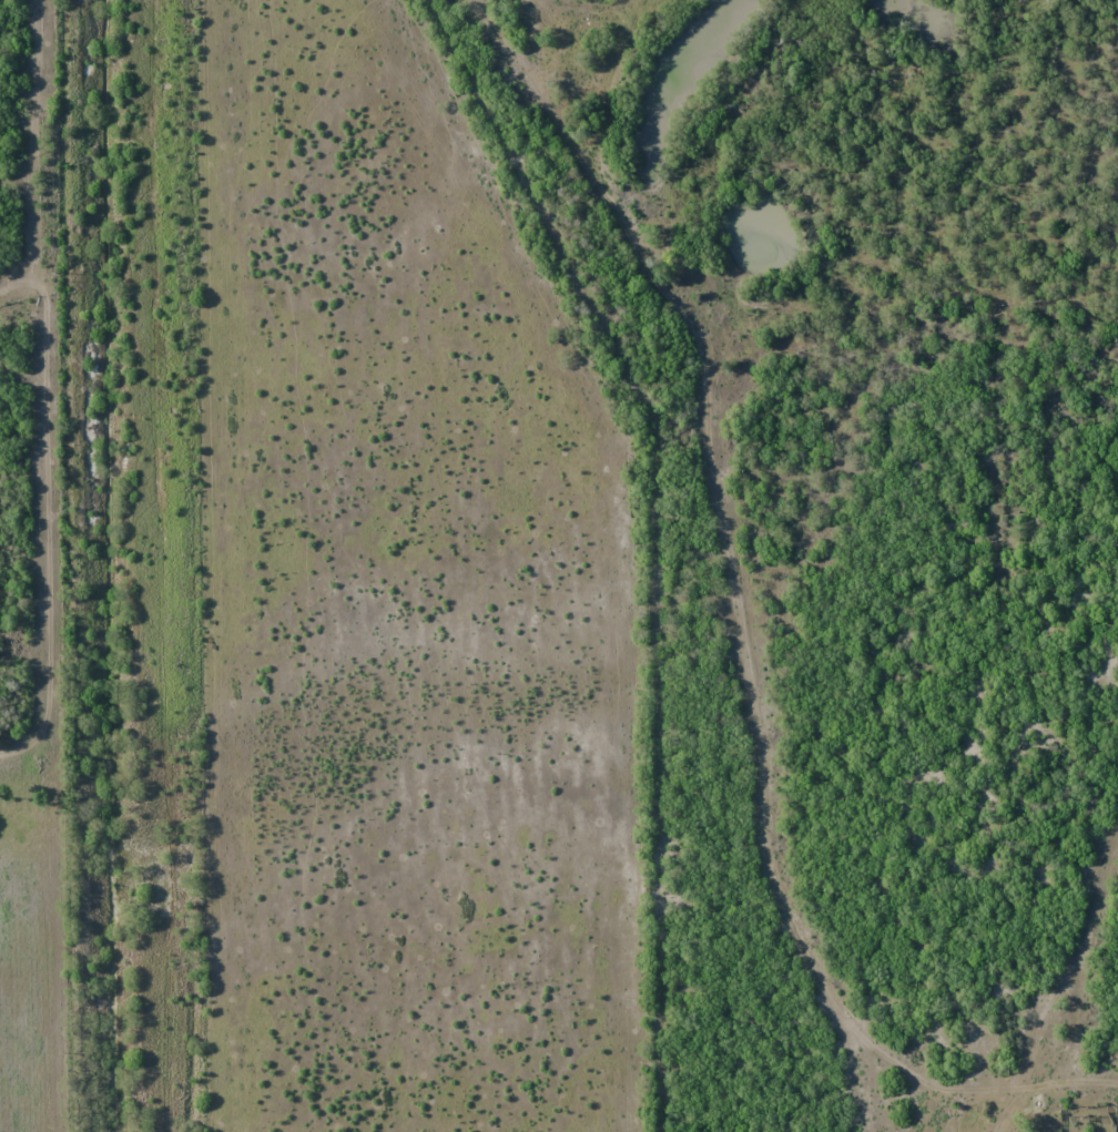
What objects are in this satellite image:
road: (983, 435)

